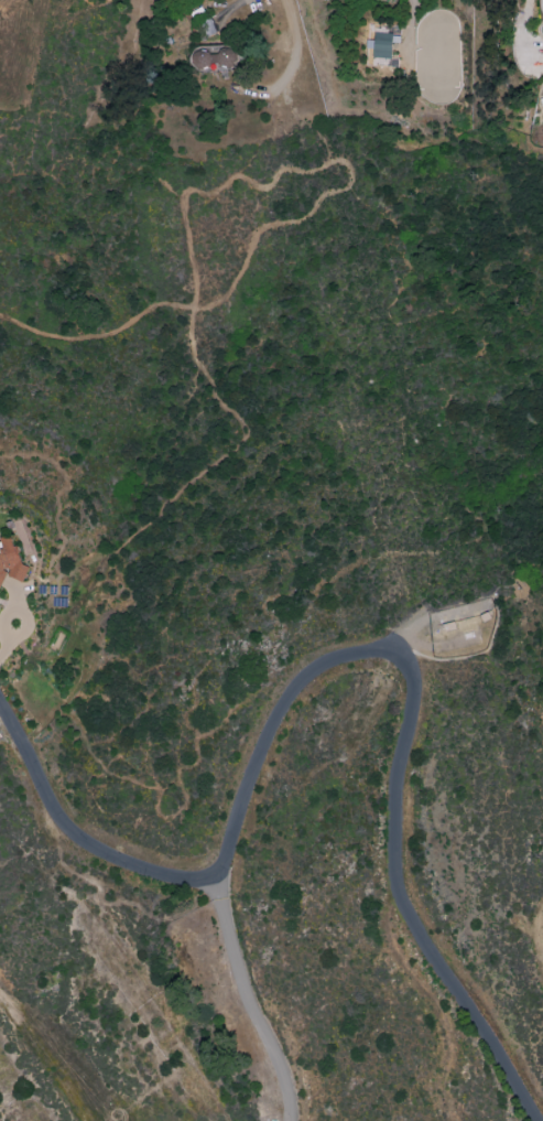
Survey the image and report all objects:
road: (528, 29)
building: (380, 44)
road: (295, 55)
building: (211, 57)
road: (184, 195)
road: (220, 295)
road: (454, 547)
building: (10, 560)
road: (346, 658)
road: (8, 726)
road: (537, 933)
road: (246, 999)

